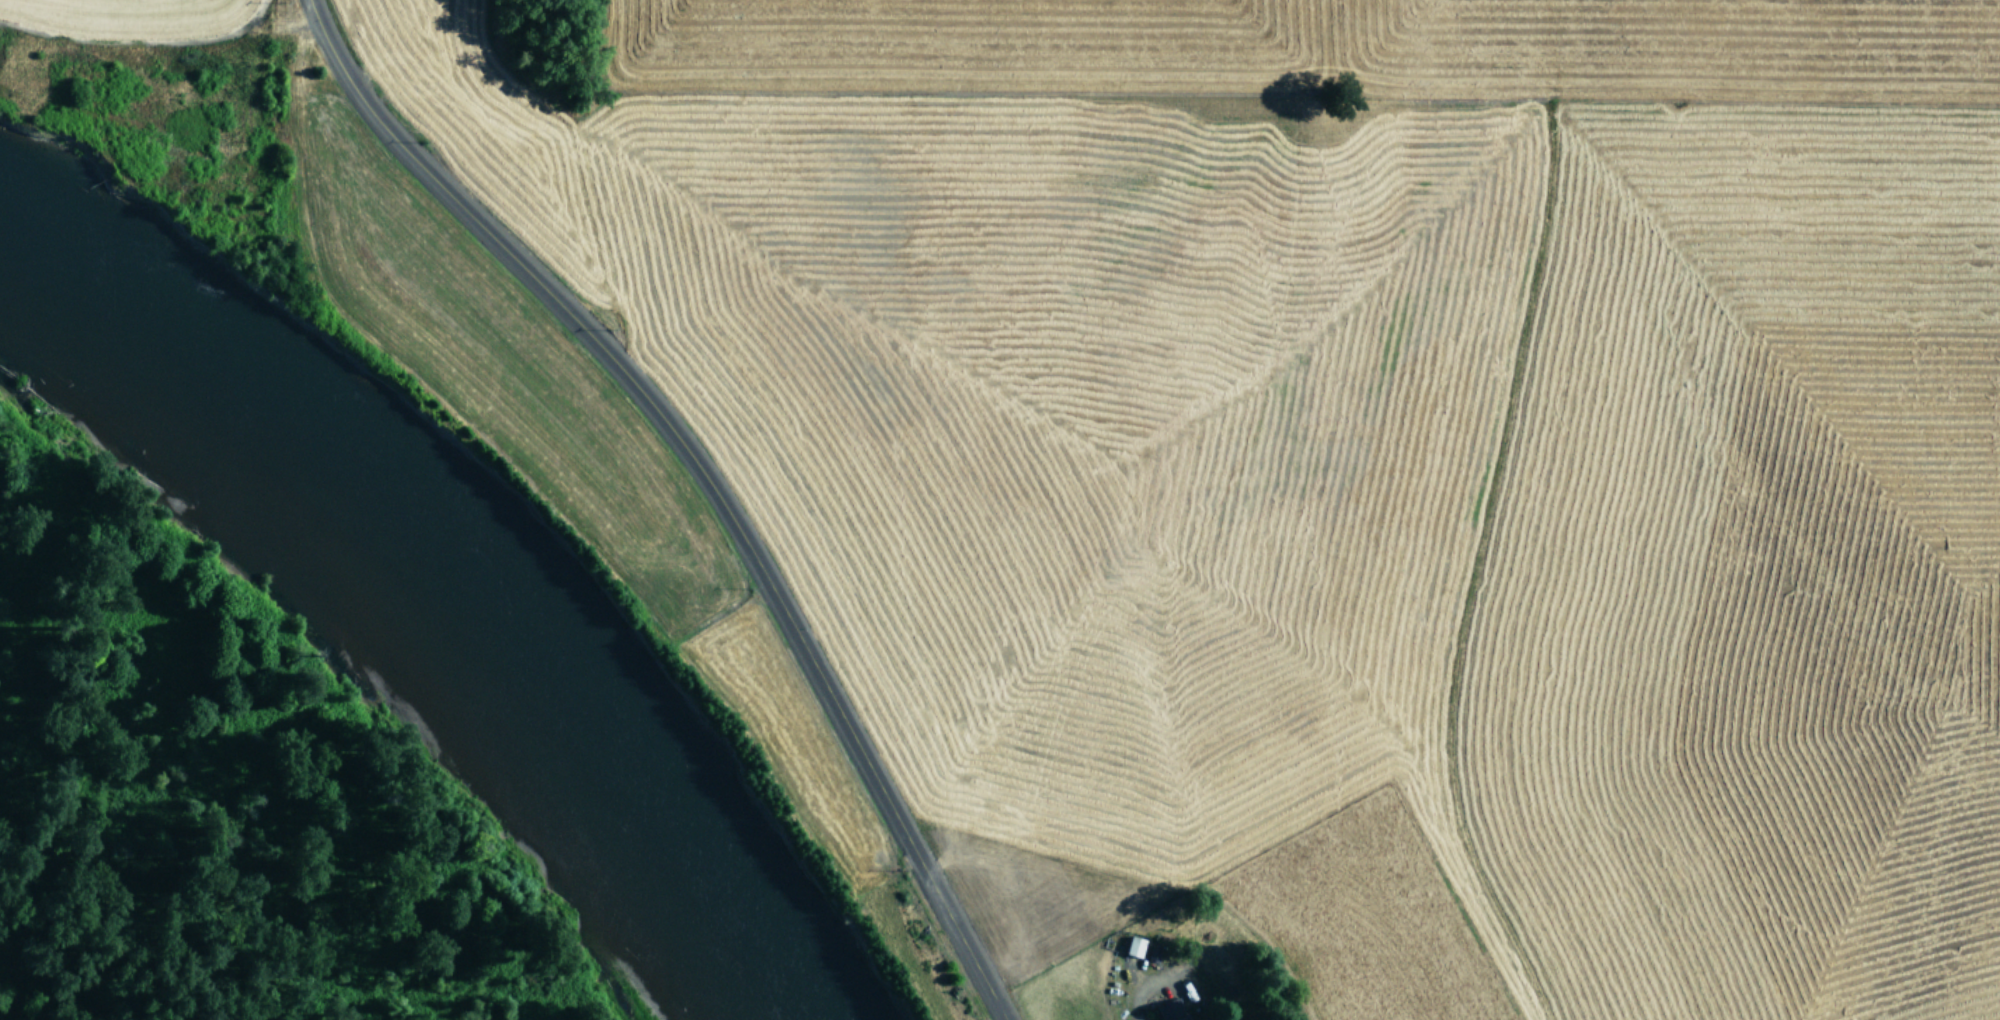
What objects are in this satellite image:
crop: (128, 20)
road: (720, 461)
crop: (1251, 471)
river: (444, 587)
building: (1135, 946)
building: (1172, 1010)

